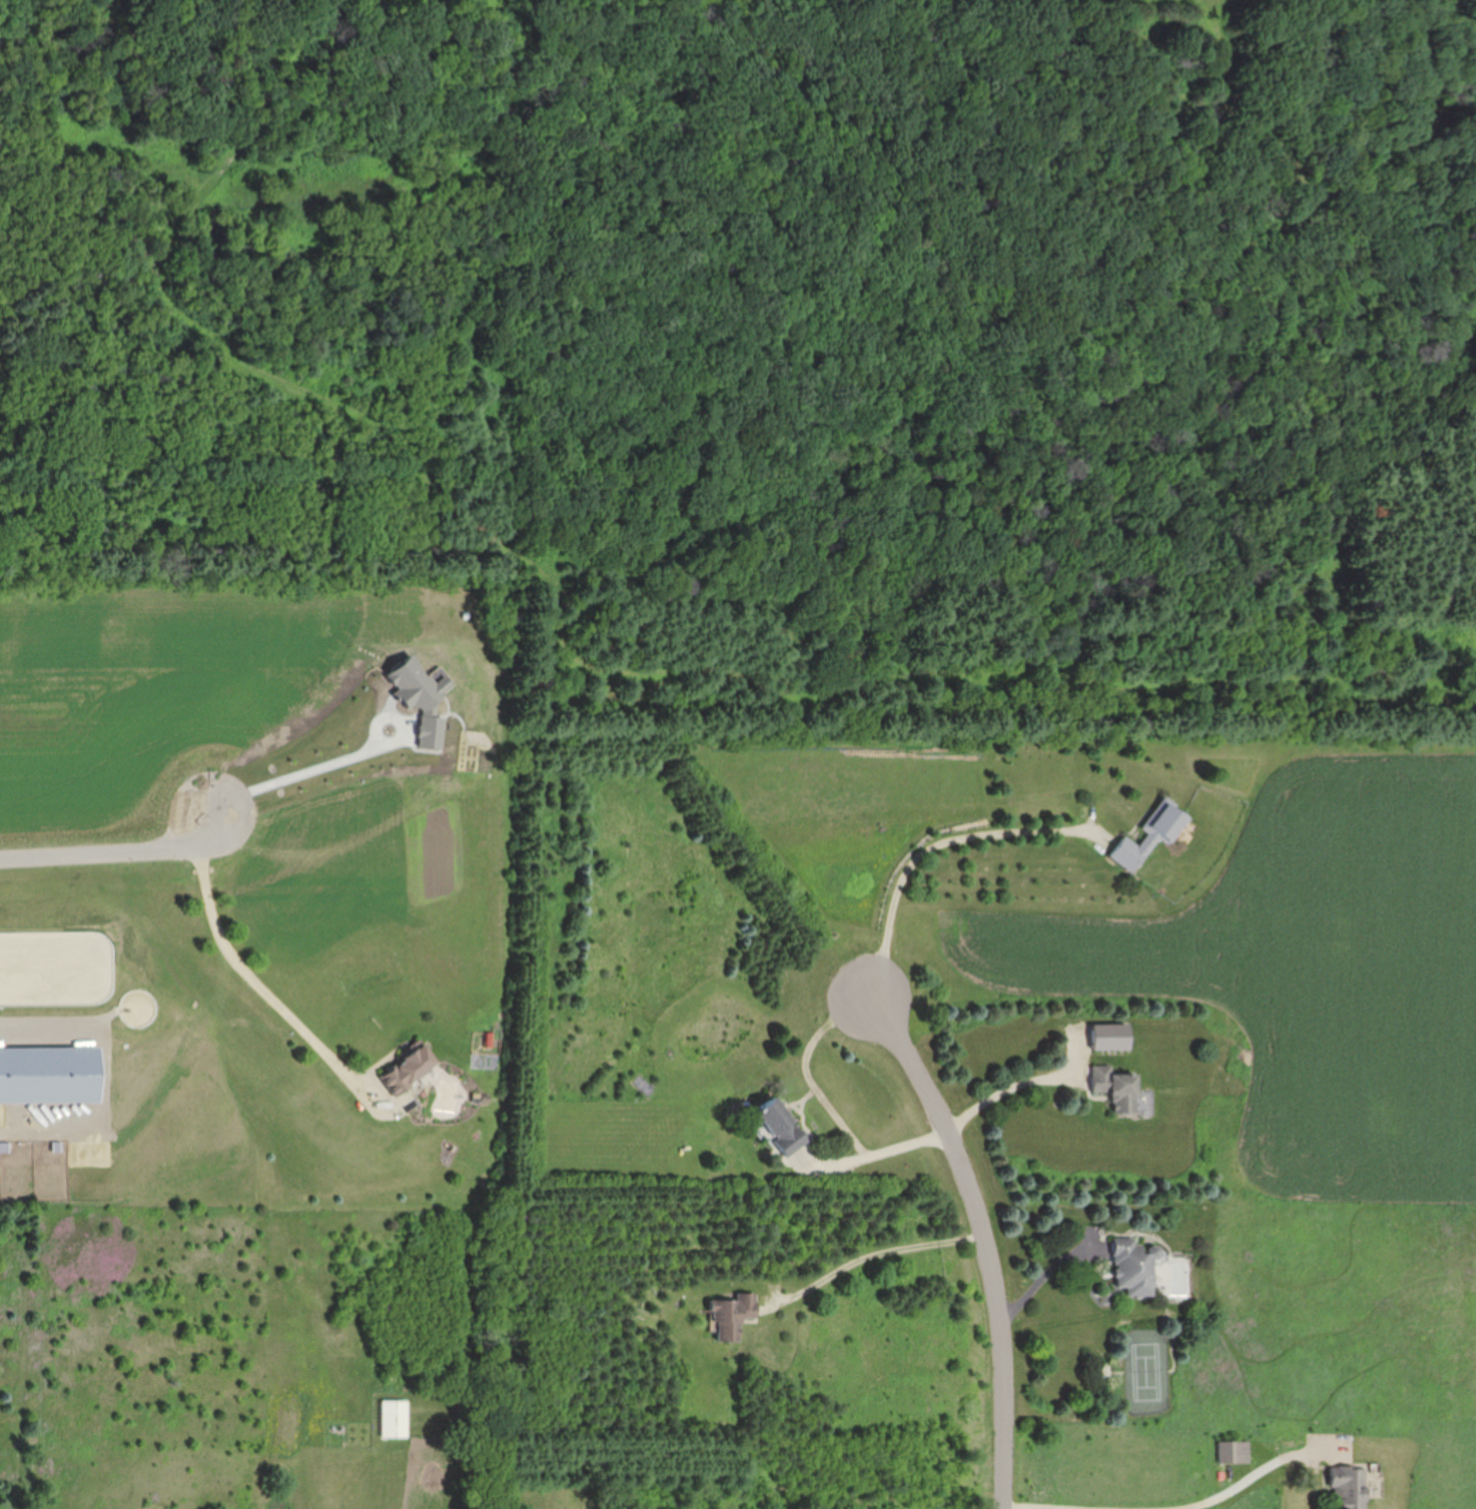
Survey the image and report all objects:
park: (778, 340)
road: (299, 773)
building: (1151, 835)
road: (933, 849)
road: (114, 851)
building: (1153, 883)
road: (247, 972)
road: (49, 1026)
building: (1111, 1037)
building: (409, 1067)
road: (809, 1069)
building: (1117, 1090)
building: (778, 1132)
road: (942, 1137)
road: (991, 1242)
road: (876, 1257)
building: (1134, 1269)
road: (1050, 1277)
building: (733, 1317)
building: (395, 1420)
building: (1232, 1450)
road: (1261, 1476)
building: (1345, 1488)
road: (1017, 1508)

